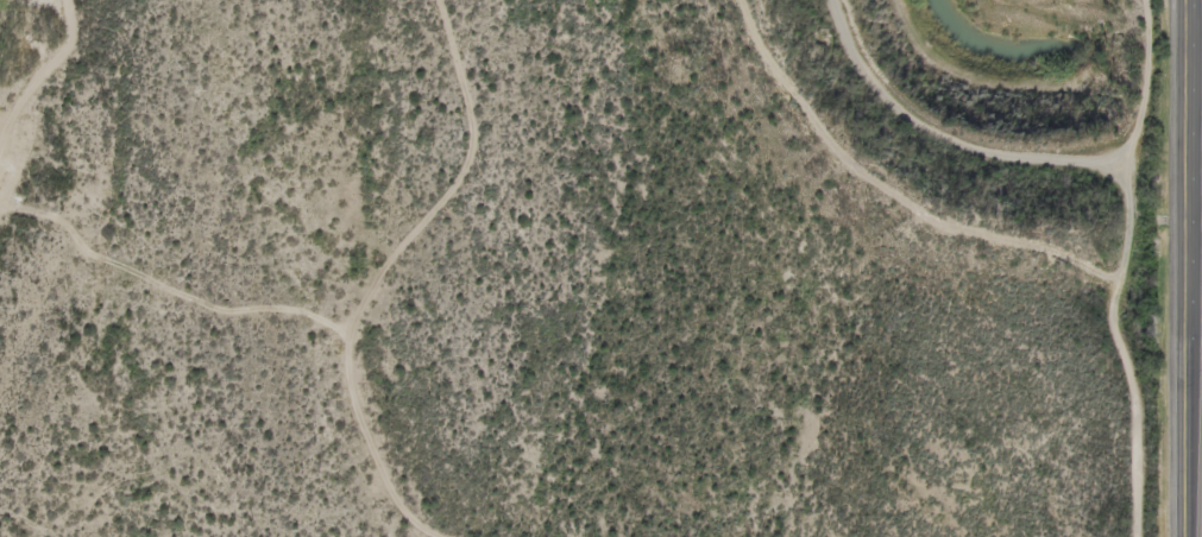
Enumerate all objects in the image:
road: (401, 264)
road: (1190, 267)
road: (1196, 525)

